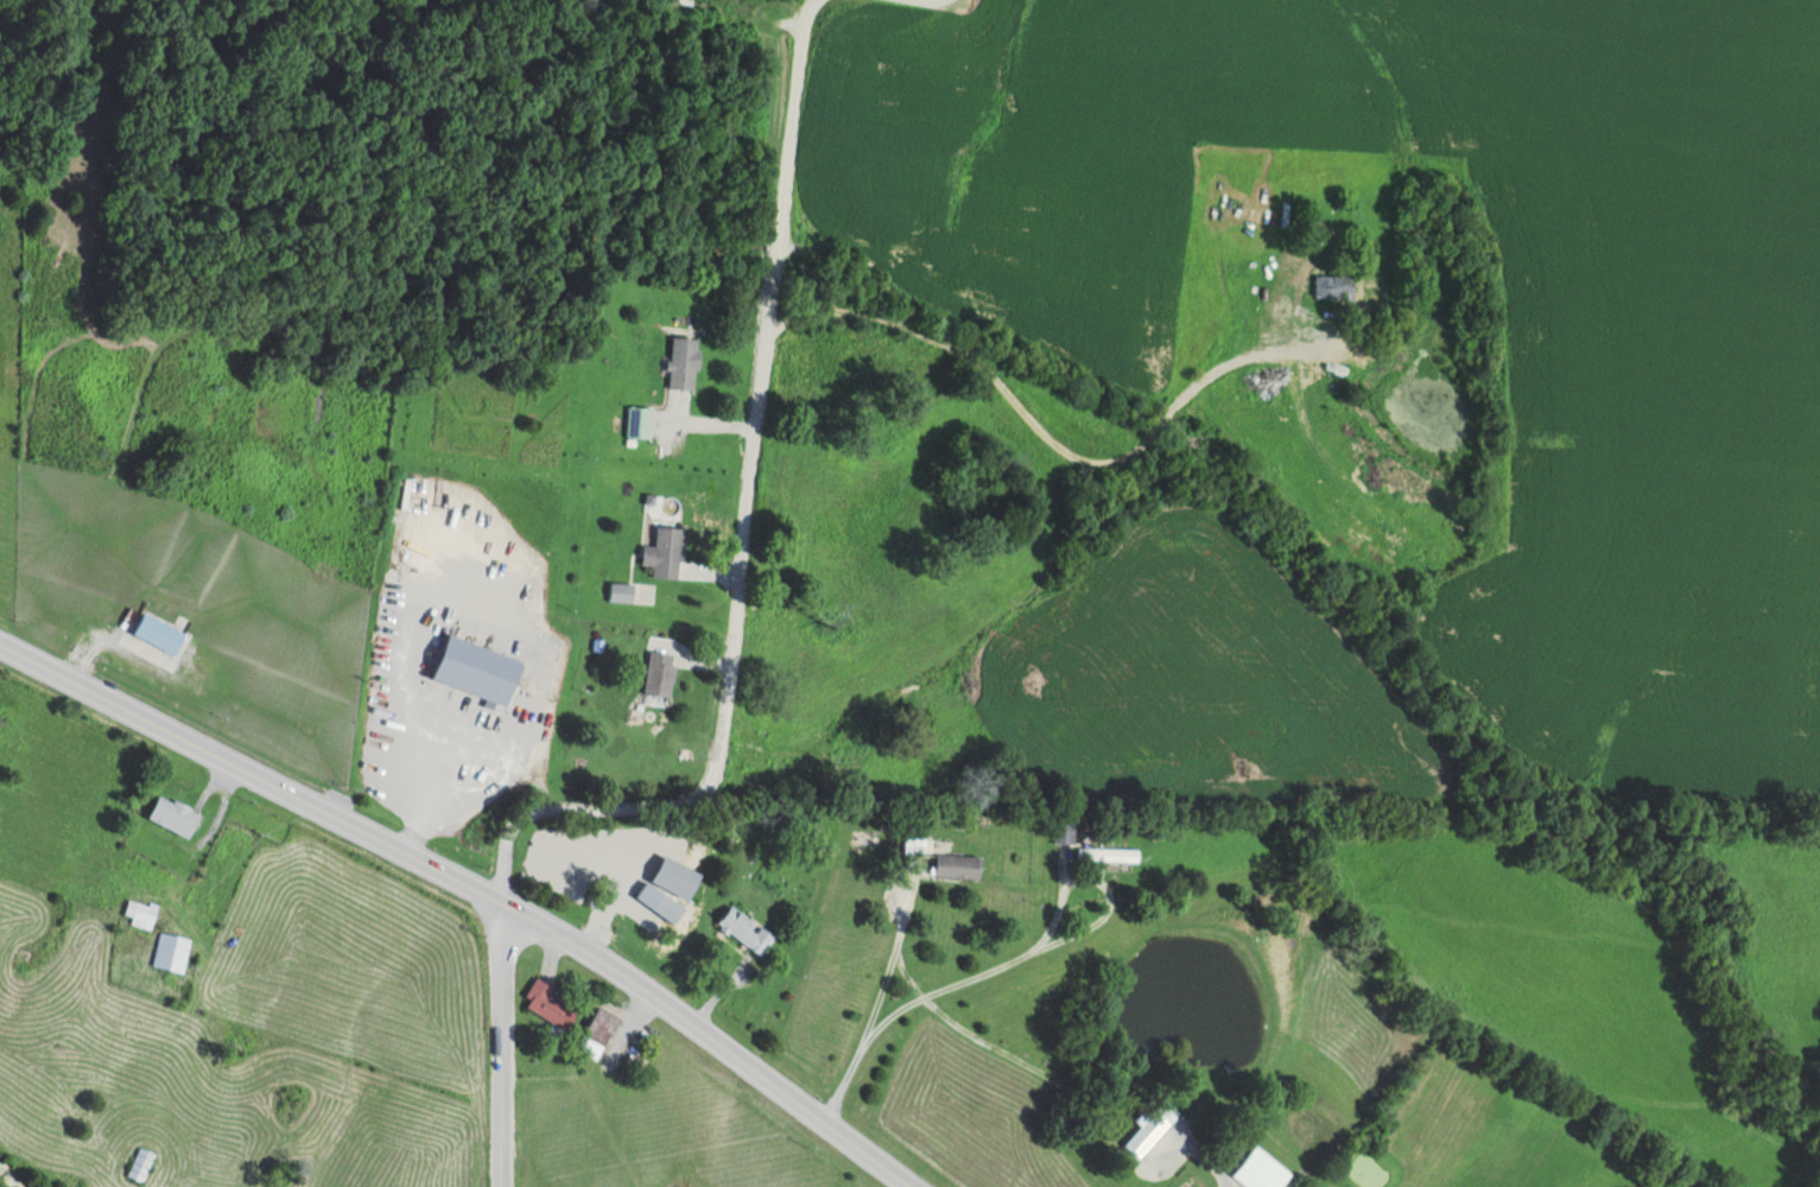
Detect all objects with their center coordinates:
building: (1334, 285)
building: (685, 363)
building: (641, 423)
road: (721, 452)
road: (1007, 508)
building: (667, 553)
building: (157, 630)
building: (662, 673)
road: (438, 783)
building: (177, 814)
building: (1066, 832)
building: (1109, 853)
building: (959, 864)
road: (476, 883)
building: (142, 912)
building: (747, 928)
building: (173, 951)
building: (554, 1005)
road: (496, 1040)
building: (1153, 1128)
building: (144, 1163)
building: (1262, 1170)

